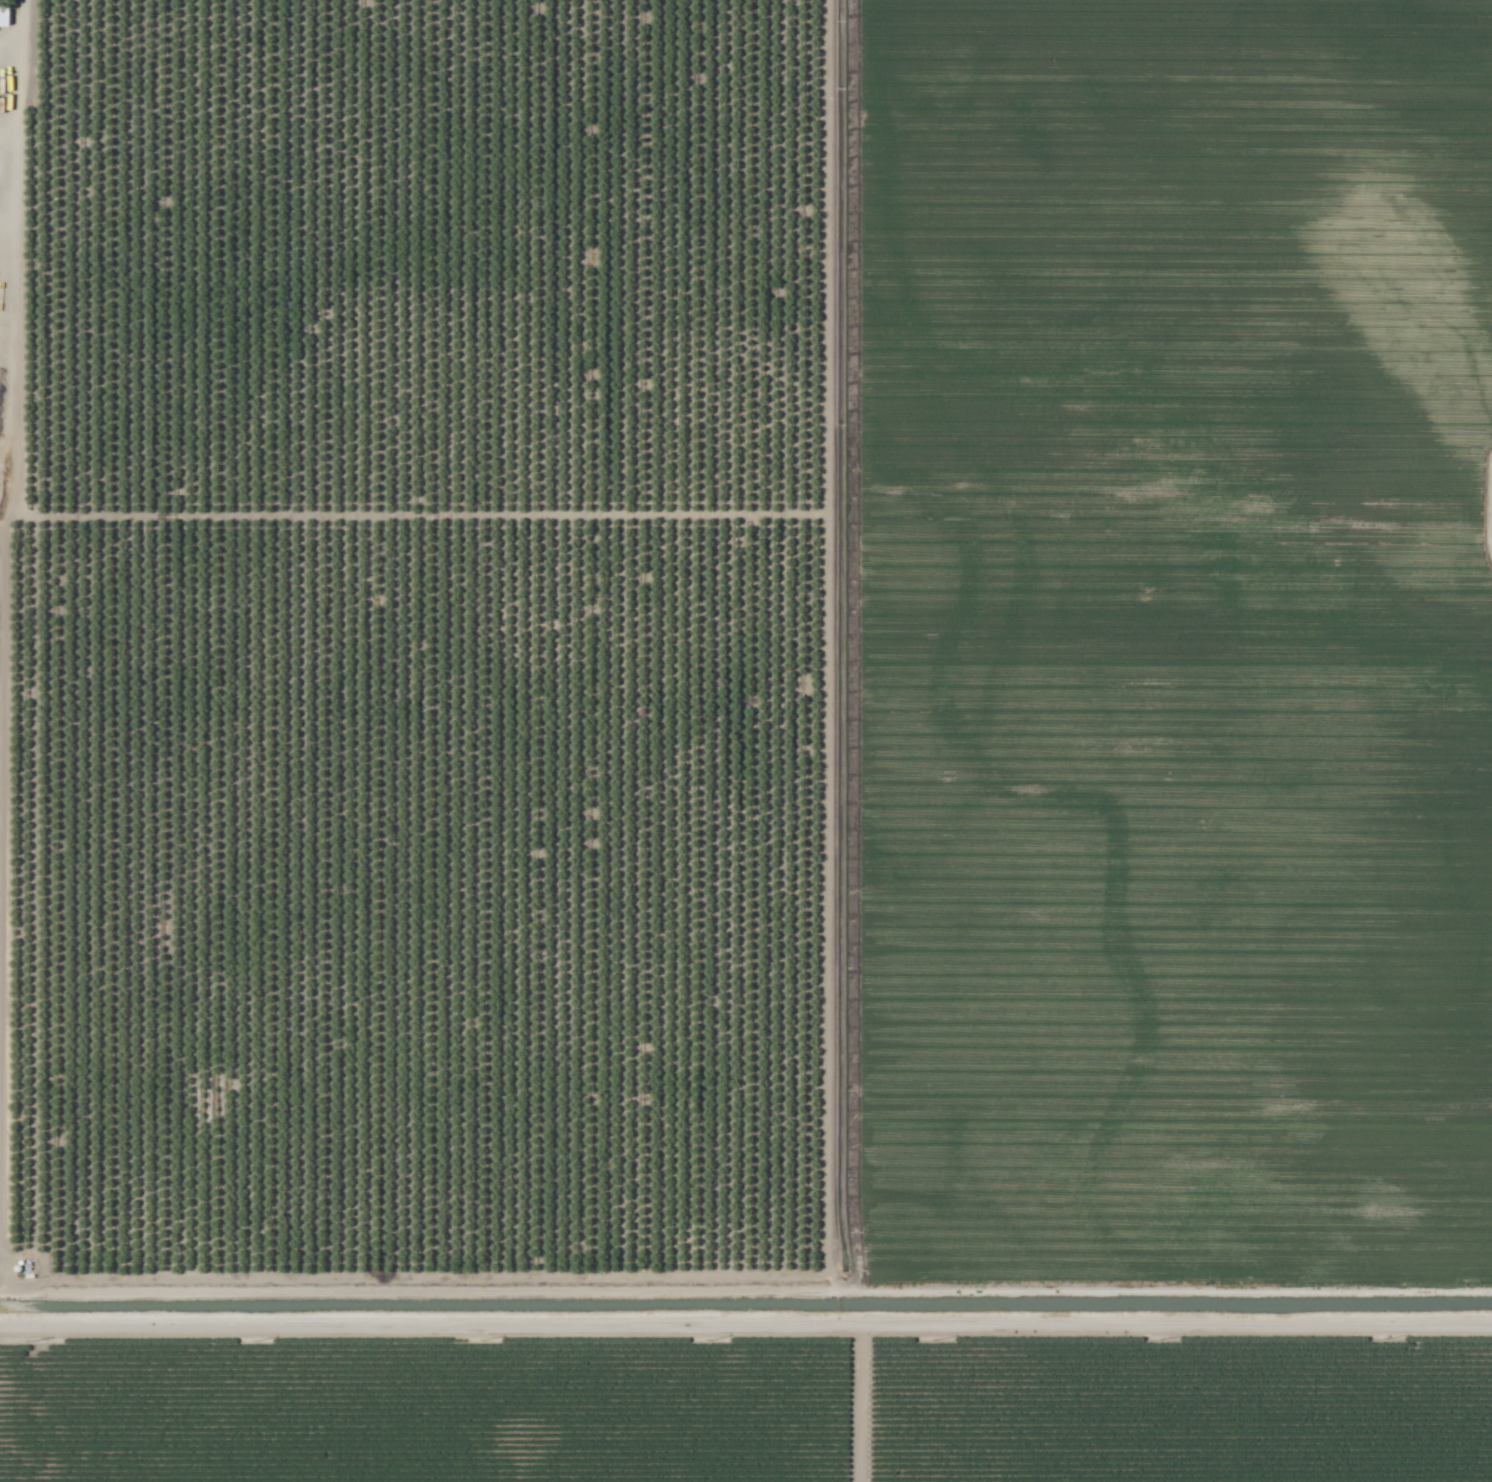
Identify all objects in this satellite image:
crop: (9, 235)
road: (35, 603)
crop: (434, 637)
crop: (1175, 639)
crop: (4, 723)
road: (746, 1322)
crop: (748, 1407)

